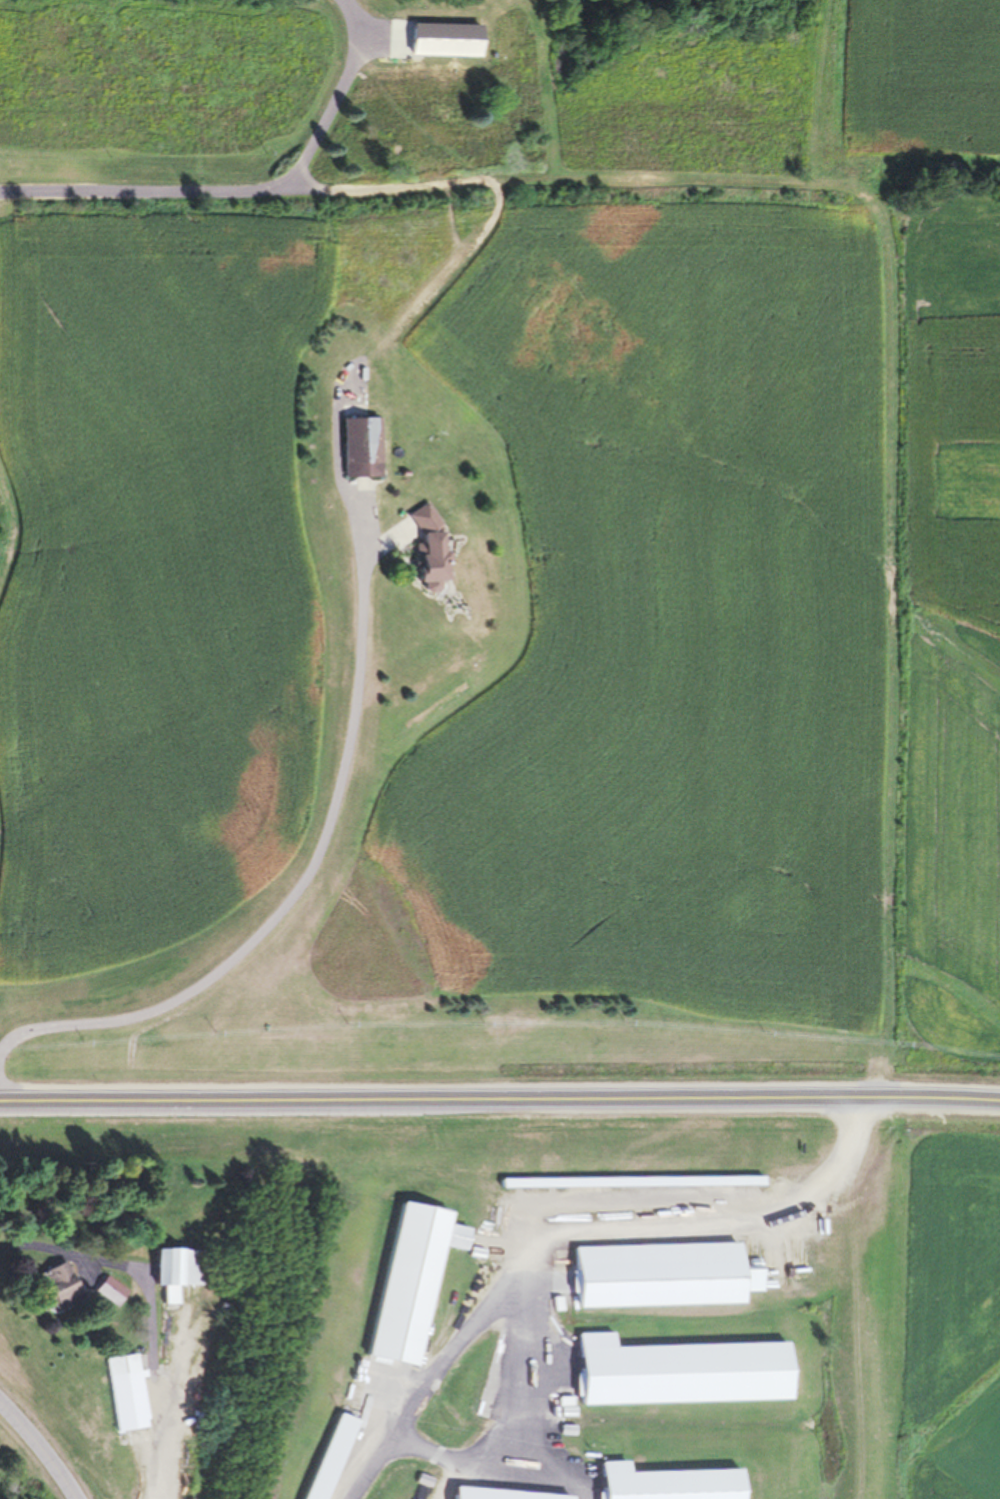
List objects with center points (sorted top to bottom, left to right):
building: (388, 42)
road: (337, 97)
building: (449, 148)
road: (143, 192)
building: (362, 447)
building: (428, 548)
road: (358, 880)
road: (500, 1099)
building: (175, 1271)
building: (663, 1275)
building: (415, 1279)
building: (58, 1286)
building: (109, 1291)
building: (679, 1371)
building: (126, 1392)
road: (42, 1446)
building: (332, 1456)
building: (665, 1483)

